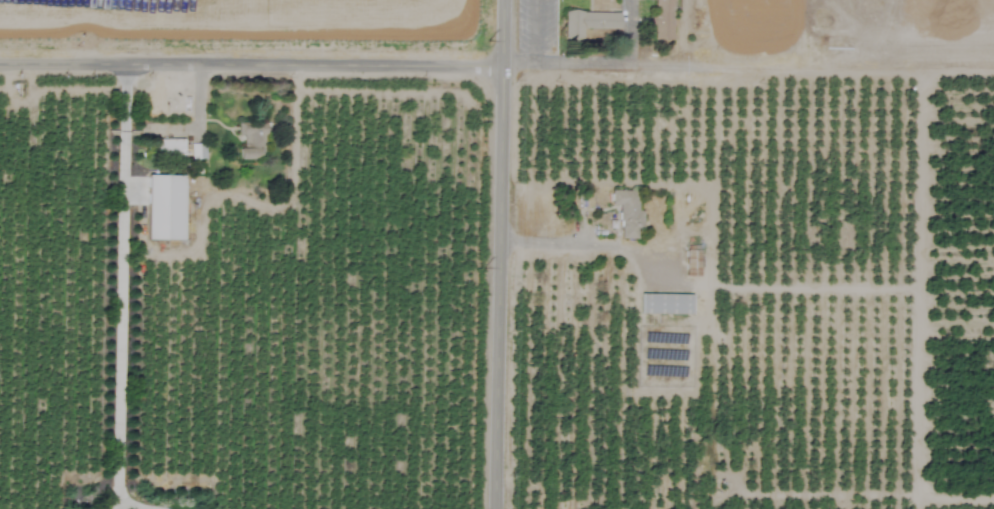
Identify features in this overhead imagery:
building: (662, 20)
building: (594, 28)
road: (251, 60)
road: (748, 66)
building: (250, 138)
building: (169, 148)
building: (197, 151)
building: (164, 208)
building: (627, 213)
road: (552, 244)
crop: (497, 254)
road: (498, 254)
building: (692, 263)
road: (120, 282)
building: (665, 304)
road: (121, 505)

